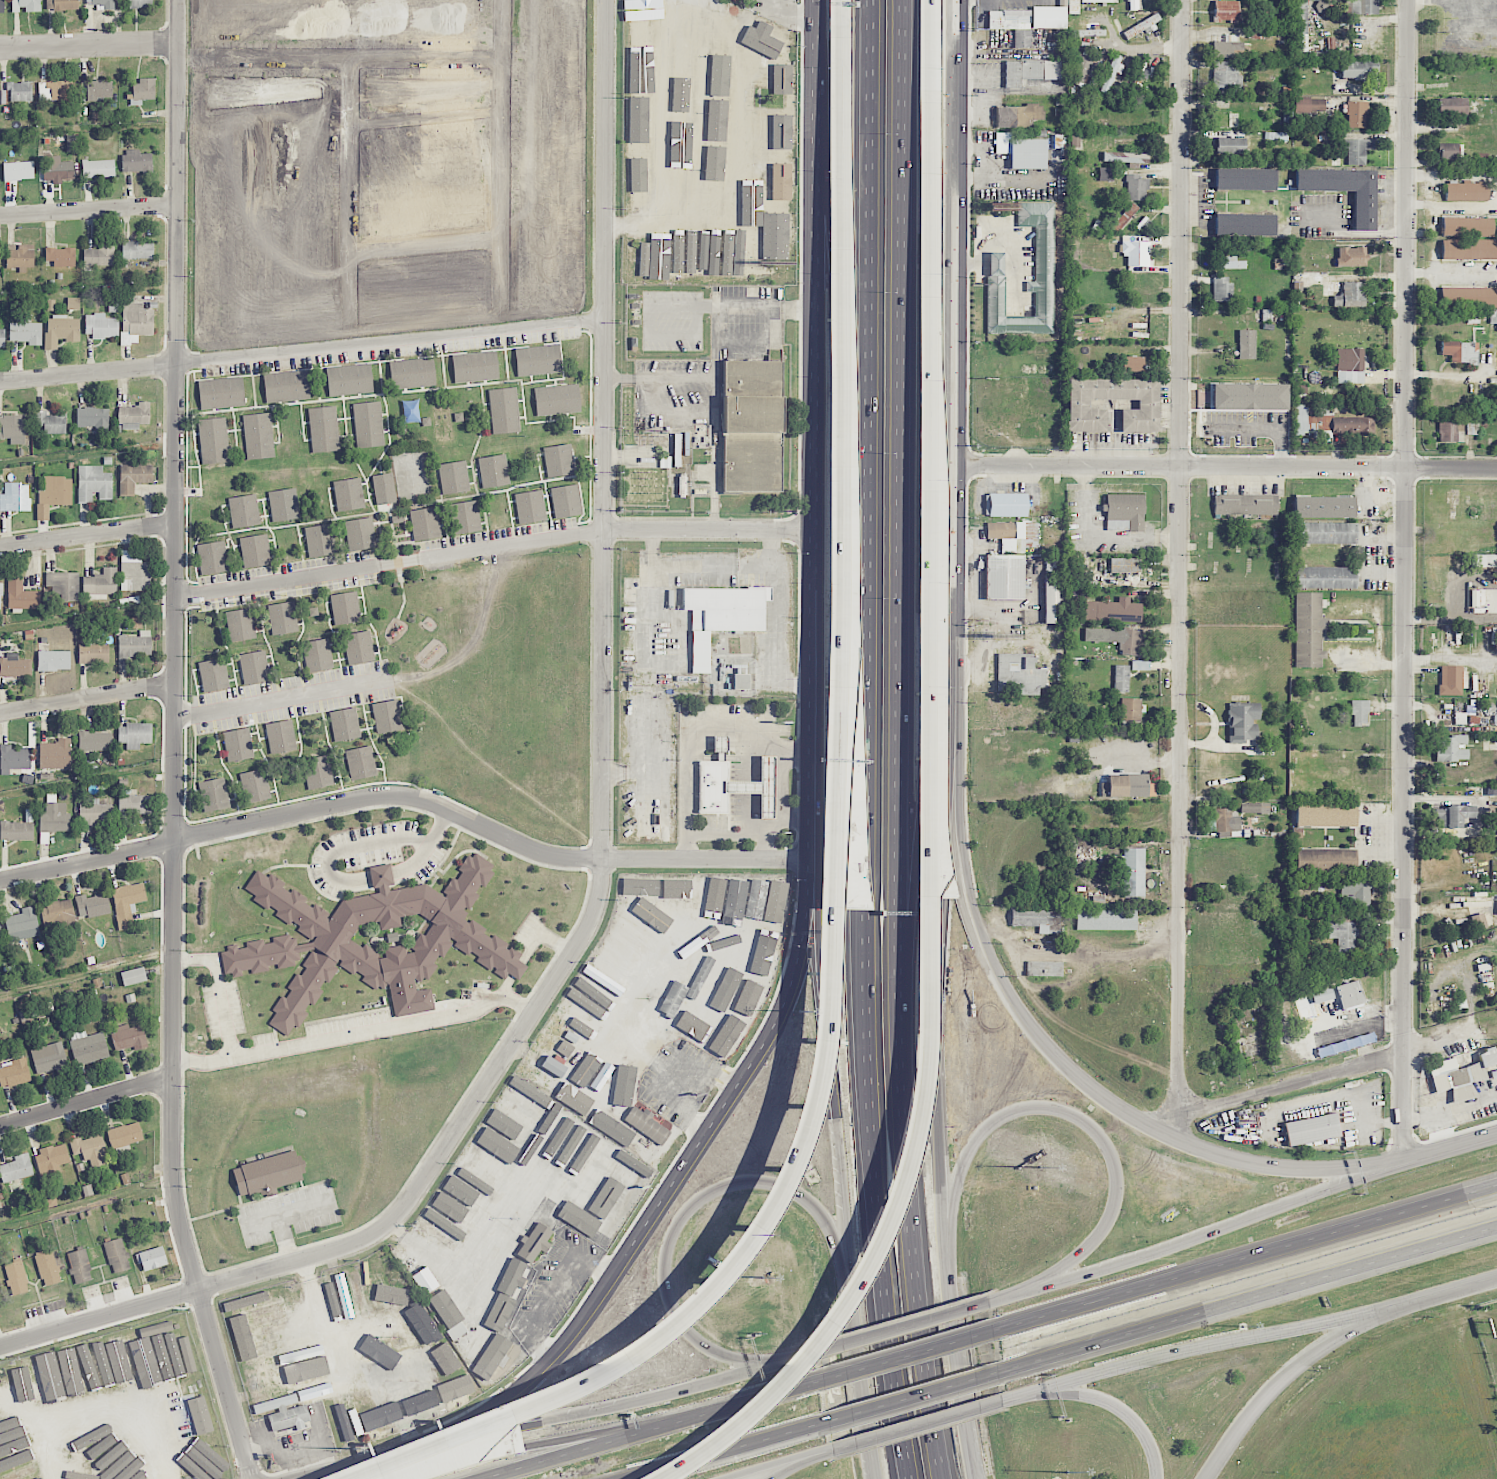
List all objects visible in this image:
building: (1099, 1)
building: (1155, 3)
building: (61, 4)
building: (139, 4)
building: (25, 5)
building: (1, 6)
building: (1361, 6)
building: (645, 7)
building: (1226, 10)
road: (840, 17)
building: (1048, 18)
building: (1013, 25)
building: (1142, 26)
building: (1301, 26)
building: (1088, 32)
building: (766, 41)
road: (89, 42)
building: (639, 43)
road: (930, 51)
road: (821, 66)
building: (703, 67)
building: (1081, 68)
building: (1140, 69)
building: (1359, 69)
building: (1030, 71)
building: (1111, 72)
building: (716, 76)
building: (1226, 77)
building: (782, 87)
building: (57, 89)
building: (99, 89)
building: (639, 90)
building: (20, 91)
building: (141, 91)
building: (749, 97)
building: (681, 103)
building: (1309, 105)
building: (1452, 106)
building: (701, 114)
building: (1356, 114)
building: (1017, 115)
building: (716, 120)
building: (637, 129)
building: (781, 132)
building: (1231, 145)
building: (678, 148)
building: (765, 149)
building: (1022, 151)
building: (1356, 151)
building: (1449, 151)
building: (1125, 157)
building: (136, 161)
building: (98, 168)
building: (57, 169)
building: (18, 170)
building: (636, 171)
building: (1106, 174)
building: (1245, 179)
building: (781, 182)
building: (754, 185)
building: (1136, 187)
building: (1466, 191)
road: (88, 208)
building: (1364, 209)
building: (737, 215)
building: (1124, 217)
building: (1244, 224)
building: (1467, 226)
road: (1351, 232)
building: (776, 236)
building: (1469, 249)
building: (137, 250)
building: (669, 251)
building: (691, 251)
building: (1135, 252)
building: (705, 253)
building: (728, 253)
building: (749, 253)
building: (20, 255)
building: (99, 255)
road: (801, 255)
building: (61, 256)
building: (1351, 256)
building: (644, 259)
building: (1232, 262)
building: (995, 266)
road: (1452, 272)
building: (1221, 288)
building: (1350, 295)
building: (1468, 297)
building: (73, 303)
road: (718, 308)
road: (874, 308)
building: (1493, 316)
building: (135, 322)
building: (101, 326)
building: (60, 330)
building: (26, 332)
building: (2, 338)
road: (761, 342)
building: (1246, 344)
road: (303, 350)
building: (1459, 351)
building: (537, 359)
building: (1131, 363)
building: (475, 366)
building: (1349, 366)
building: (412, 372)
road: (844, 374)
road: (664, 378)
building: (348, 379)
road: (625, 379)
building: (285, 385)
building: (221, 392)
building: (1249, 396)
building: (556, 399)
building: (1148, 404)
road: (954, 408)
building: (503, 410)
road: (680, 411)
building: (134, 416)
building: (94, 419)
building: (50, 422)
building: (368, 424)
building: (1331, 424)
building: (751, 425)
building: (13, 428)
building: (323, 428)
building: (1450, 431)
building: (258, 435)
building: (213, 439)
building: (558, 458)
road: (1225, 467)
building: (494, 470)
building: (133, 477)
building: (453, 477)
building: (93, 483)
building: (838, 483)
building: (930, 484)
building: (384, 488)
building: (348, 493)
building: (53, 495)
building: (15, 497)
road: (719, 497)
building: (565, 500)
building: (281, 503)
building: (1245, 504)
building: (1006, 505)
building: (529, 506)
building: (1323, 506)
road: (820, 507)
building: (243, 510)
building: (1124, 512)
building: (467, 517)
building: (424, 523)
building: (1325, 532)
building: (360, 533)
road: (88, 534)
building: (318, 540)
road: (496, 546)
road: (653, 548)
building: (255, 550)
building: (211, 556)
road: (1181, 557)
building: (1483, 561)
building: (1124, 565)
road: (666, 566)
building: (134, 572)
building: (1324, 577)
building: (1005, 578)
road: (1406, 580)
building: (101, 582)
building: (63, 585)
building: (21, 595)
building: (0, 596)
building: (1477, 598)
building: (1053, 600)
building: (344, 607)
building: (1113, 610)
building: (721, 615)
building: (282, 617)
road: (778, 623)
building: (239, 624)
building: (1309, 629)
building: (1130, 641)
road: (174, 646)
building: (359, 647)
building: (133, 648)
building: (93, 653)
building: (317, 655)
building: (53, 660)
building: (1140, 665)
building: (14, 666)
building: (253, 667)
building: (1020, 673)
building: (212, 676)
building: (1121, 678)
building: (1450, 680)
road: (86, 698)
road: (279, 699)
building: (1130, 710)
building: (1359, 711)
building: (1496, 714)
building: (386, 715)
building: (1243, 721)
building: (344, 724)
road: (687, 727)
building: (134, 734)
building: (280, 736)
road: (900, 740)
building: (95, 741)
building: (238, 744)
road: (603, 744)
building: (719, 748)
building: (1451, 748)
road: (642, 753)
building: (55, 754)
building: (13, 758)
building: (360, 762)
building: (317, 771)
building: (1127, 784)
building: (255, 785)
building: (757, 785)
gas station: (757, 785)
building: (712, 786)
road: (782, 792)
building: (214, 793)
road: (410, 796)
building: (134, 804)
building: (1254, 807)
building: (95, 812)
building: (54, 815)
building: (1324, 815)
building: (1453, 815)
road: (1382, 818)
road: (800, 819)
building: (1490, 826)
building: (18, 828)
building: (1496, 834)
road: (713, 836)
road: (926, 839)
road: (351, 847)
road: (426, 847)
road: (1382, 855)
building: (1324, 859)
road: (838, 872)
building: (1133, 872)
road: (381, 875)
building: (636, 886)
building: (677, 888)
building: (1356, 890)
building: (712, 895)
building: (774, 897)
building: (744, 898)
building: (126, 903)
building: (92, 905)
building: (57, 913)
building: (717, 915)
building: (1031, 917)
building: (645, 918)
building: (1106, 919)
building: (1478, 921)
building: (22, 924)
building: (1341, 932)
building: (0, 933)
building: (363, 938)
building: (627, 939)
building: (766, 948)
road: (531, 949)
road: (1105, 955)
building: (1044, 968)
building: (133, 976)
building: (602, 981)
road: (220, 989)
building: (1350, 994)
building: (1321, 995)
building: (749, 996)
building: (590, 1003)
building: (671, 1003)
building: (691, 1013)
building: (577, 1016)
road: (359, 1034)
building: (727, 1036)
building: (127, 1037)
road: (767, 1045)
building: (88, 1047)
building: (565, 1048)
road: (870, 1048)
building: (49, 1057)
building: (550, 1068)
road: (1334, 1071)
building: (14, 1072)
building: (1493, 1073)
building: (1462, 1074)
road: (831, 1078)
building: (625, 1086)
road: (1098, 1095)
building: (574, 1098)
road: (86, 1099)
building: (514, 1112)
building: (503, 1123)
road: (1083, 1123)
building: (646, 1124)
building: (610, 1126)
road: (1173, 1126)
building: (1311, 1129)
building: (124, 1135)
building: (570, 1143)
building: (497, 1145)
road: (1451, 1148)
building: (90, 1149)
road: (941, 1149)
building: (51, 1159)
building: (490, 1165)
building: (16, 1168)
building: (268, 1174)
building: (474, 1181)
building: (554, 1194)
building: (468, 1196)
building: (606, 1197)
building: (454, 1210)
road: (686, 1214)
building: (497, 1215)
building: (575, 1219)
road: (654, 1221)
building: (434, 1233)
road: (1202, 1239)
building: (534, 1243)
building: (116, 1255)
road: (1245, 1255)
building: (152, 1258)
road: (486, 1258)
building: (79, 1266)
building: (47, 1268)
building: (16, 1277)
building: (425, 1280)
building: (376, 1288)
road: (552, 1291)
building: (358, 1293)
road: (1439, 1295)
building: (509, 1297)
road: (1248, 1297)
building: (627, 1312)
road: (99, 1318)
building: (155, 1328)
road: (906, 1328)
building: (456, 1331)
building: (243, 1344)
road: (1193, 1346)
building: (378, 1354)
building: (495, 1354)
road: (906, 1355)
building: (165, 1357)
road: (795, 1360)
building: (142, 1361)
building: (125, 1362)
building: (97, 1364)
building: (435, 1368)
building: (307, 1369)
building: (67, 1370)
road: (542, 1371)
road: (744, 1374)
building: (53, 1376)
road: (865, 1377)
building: (39, 1378)
building: (255, 1380)
road: (1281, 1382)
building: (28, 1384)
road: (226, 1384)
building: (439, 1395)
road: (915, 1399)
road: (130, 1400)
road: (1105, 1402)
building: (283, 1412)
building: (199, 1415)
building: (368, 1417)
road: (566, 1418)
road: (922, 1423)
road: (651, 1431)
building: (89, 1432)
building: (13, 1439)
building: (85, 1447)
road: (731, 1451)
road: (819, 1453)
building: (12, 1457)
building: (124, 1460)
road: (366, 1464)
road: (761, 1466)
road: (791, 1468)
building: (20, 1473)
building: (145, 1474)
building: (41, 1478)
building: (63, 1478)

